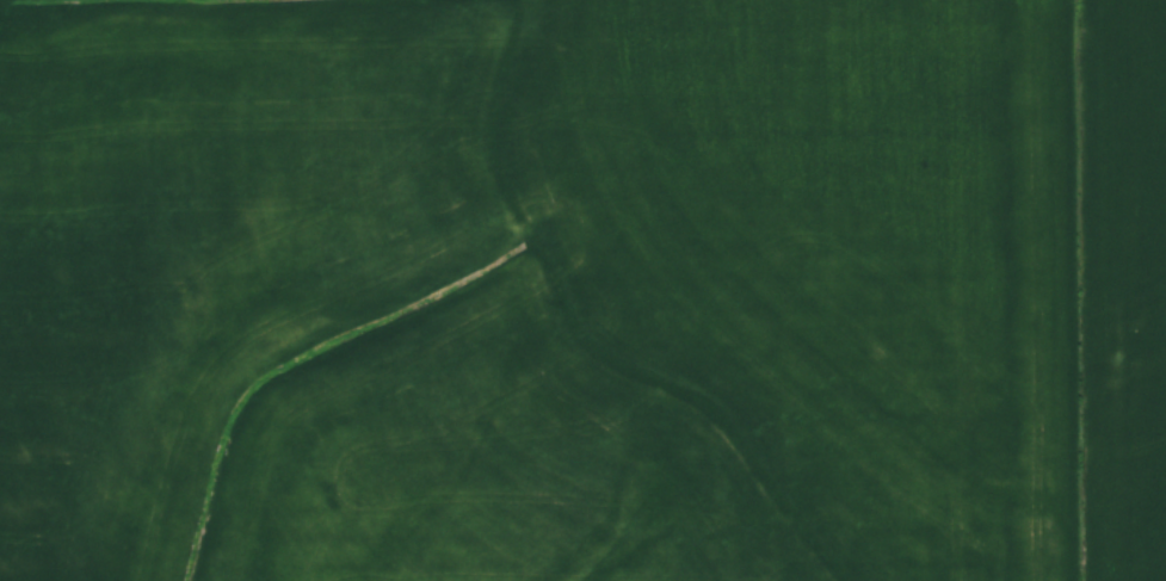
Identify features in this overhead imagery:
crop: (1123, 289)

